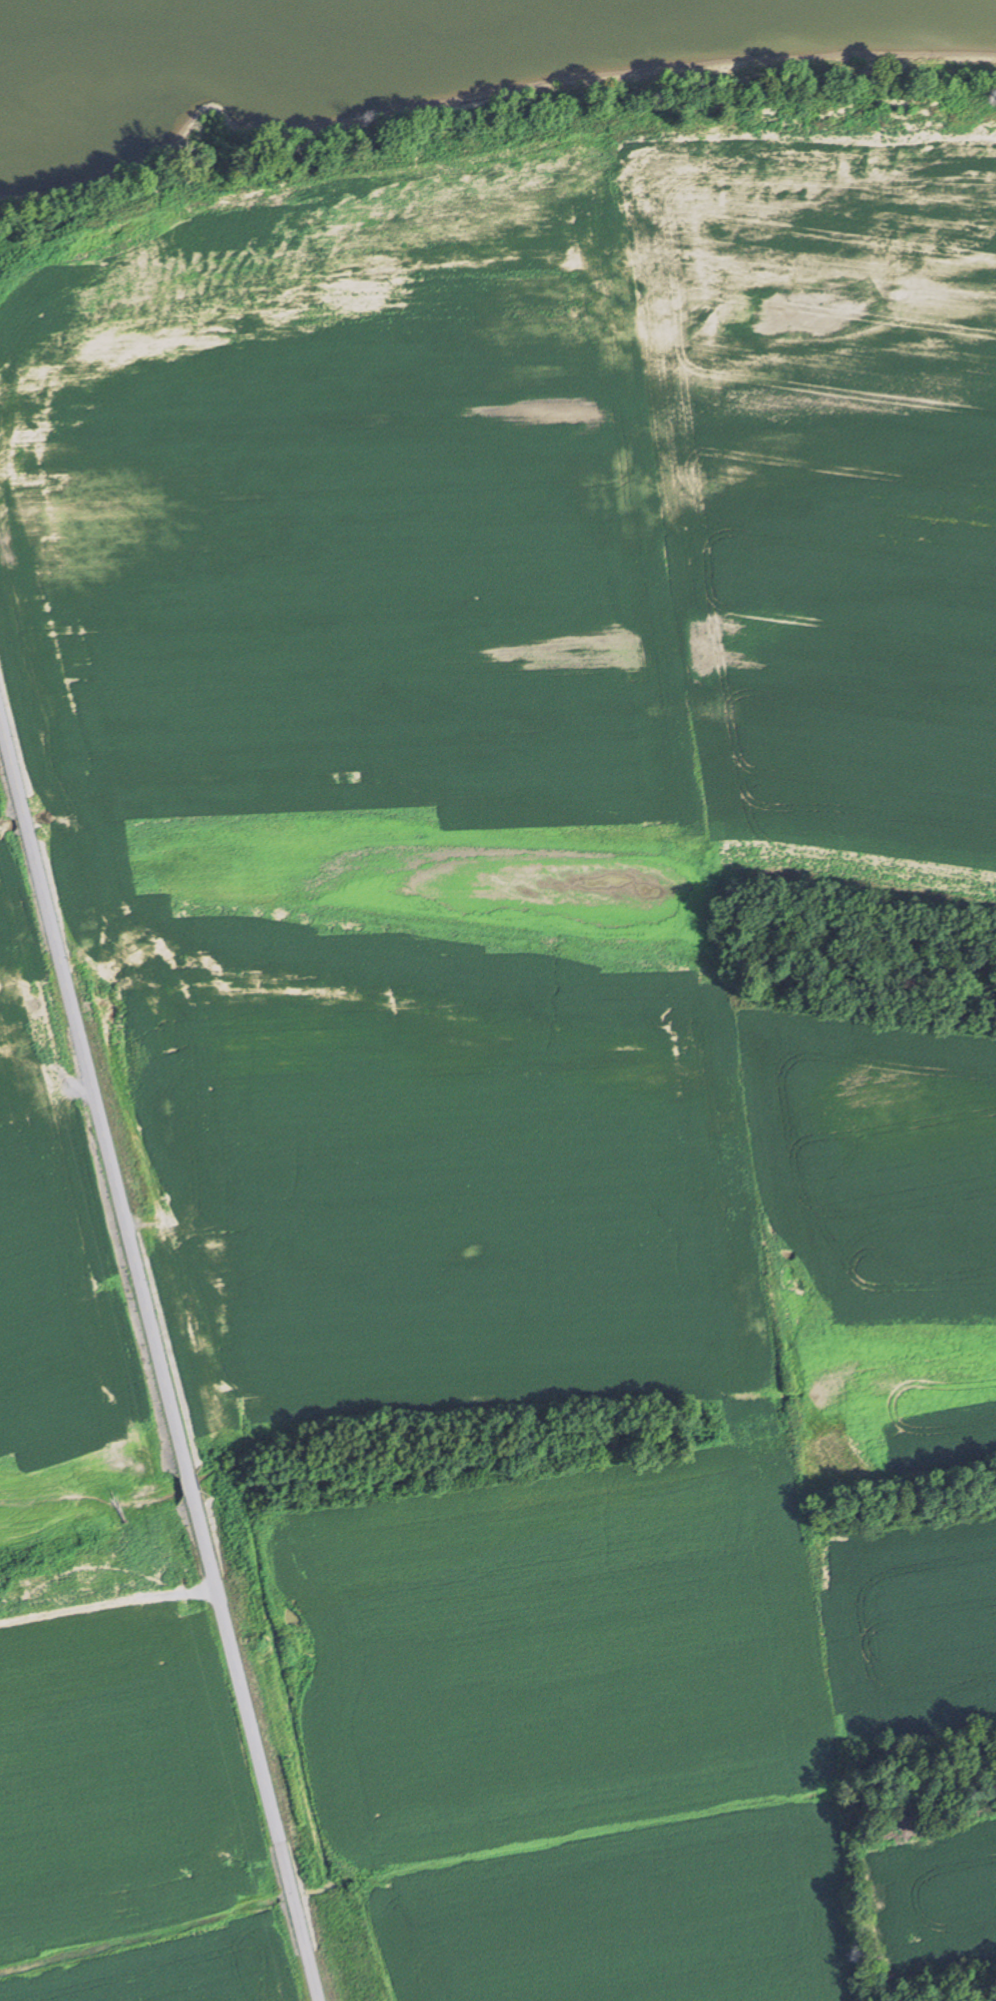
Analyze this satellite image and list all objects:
road: (160, 1359)

